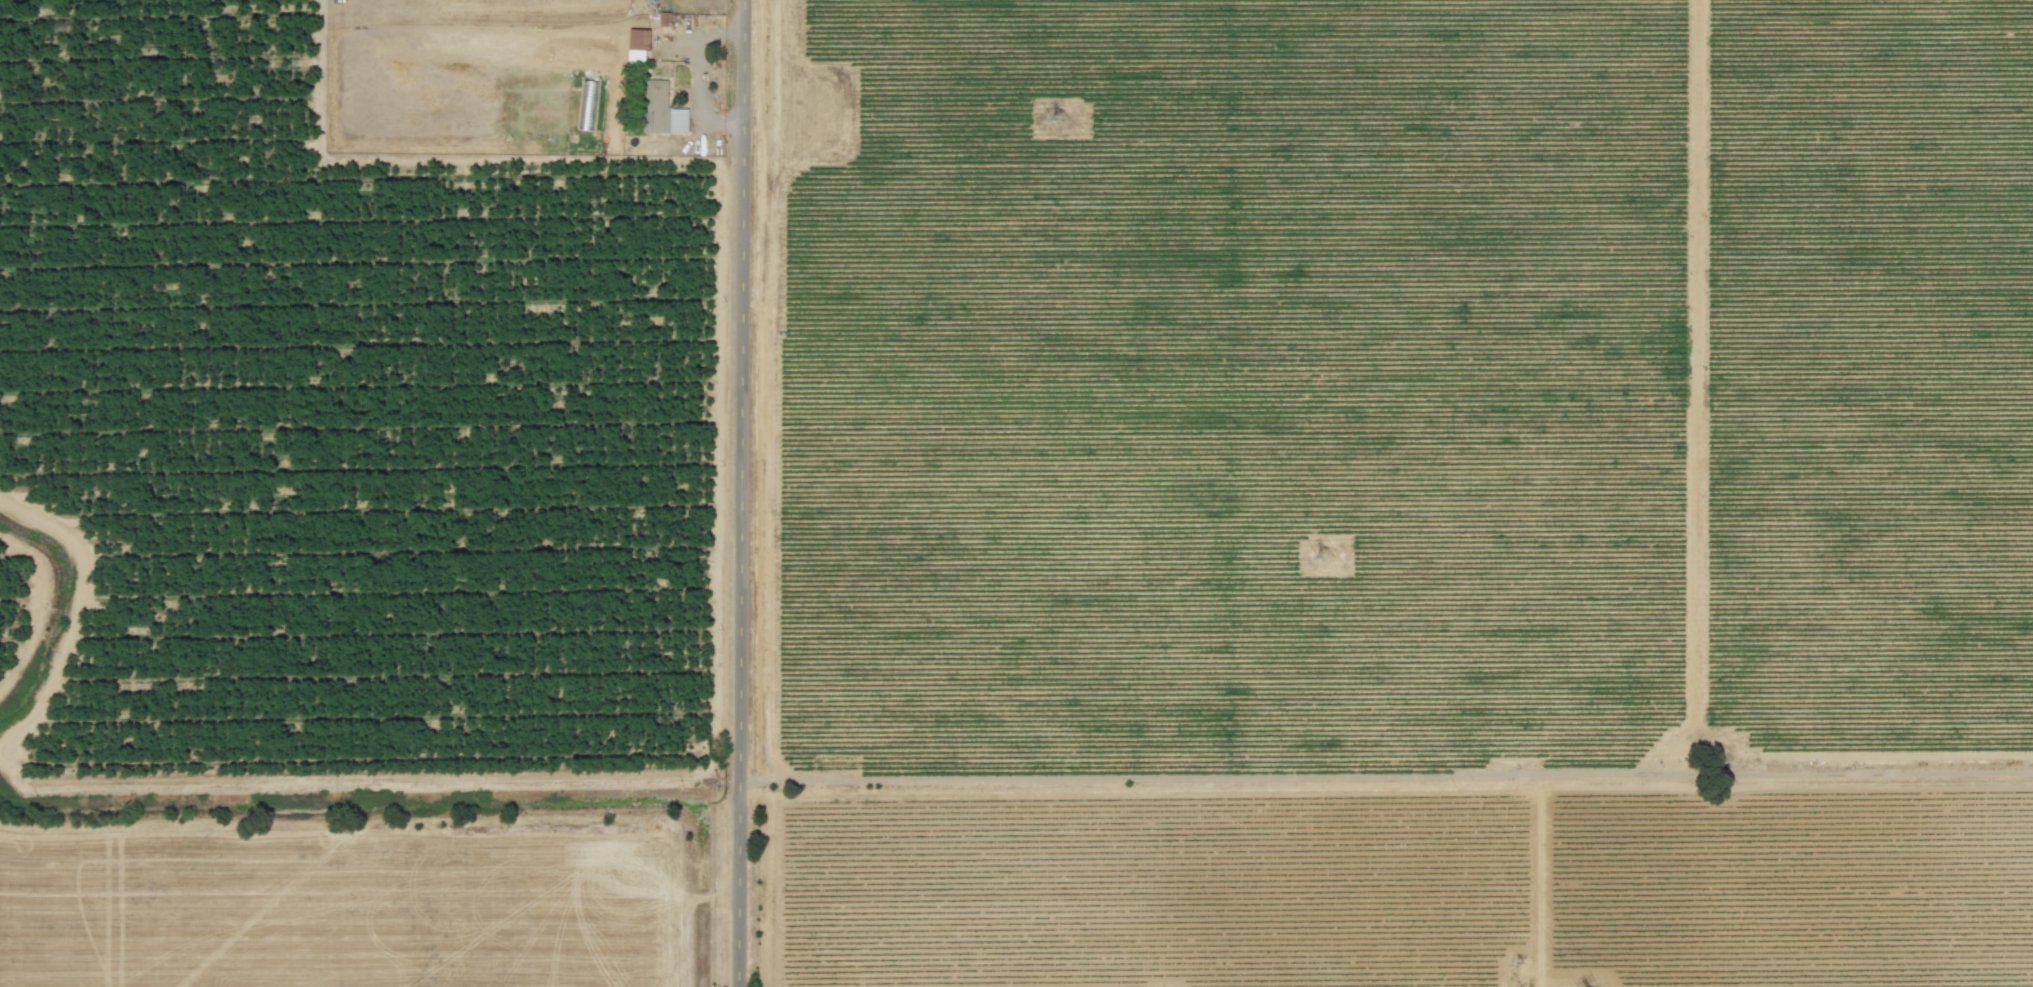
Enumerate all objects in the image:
building: (638, 46)
power tower: (1057, 117)
road: (744, 493)
power tower: (1321, 556)

